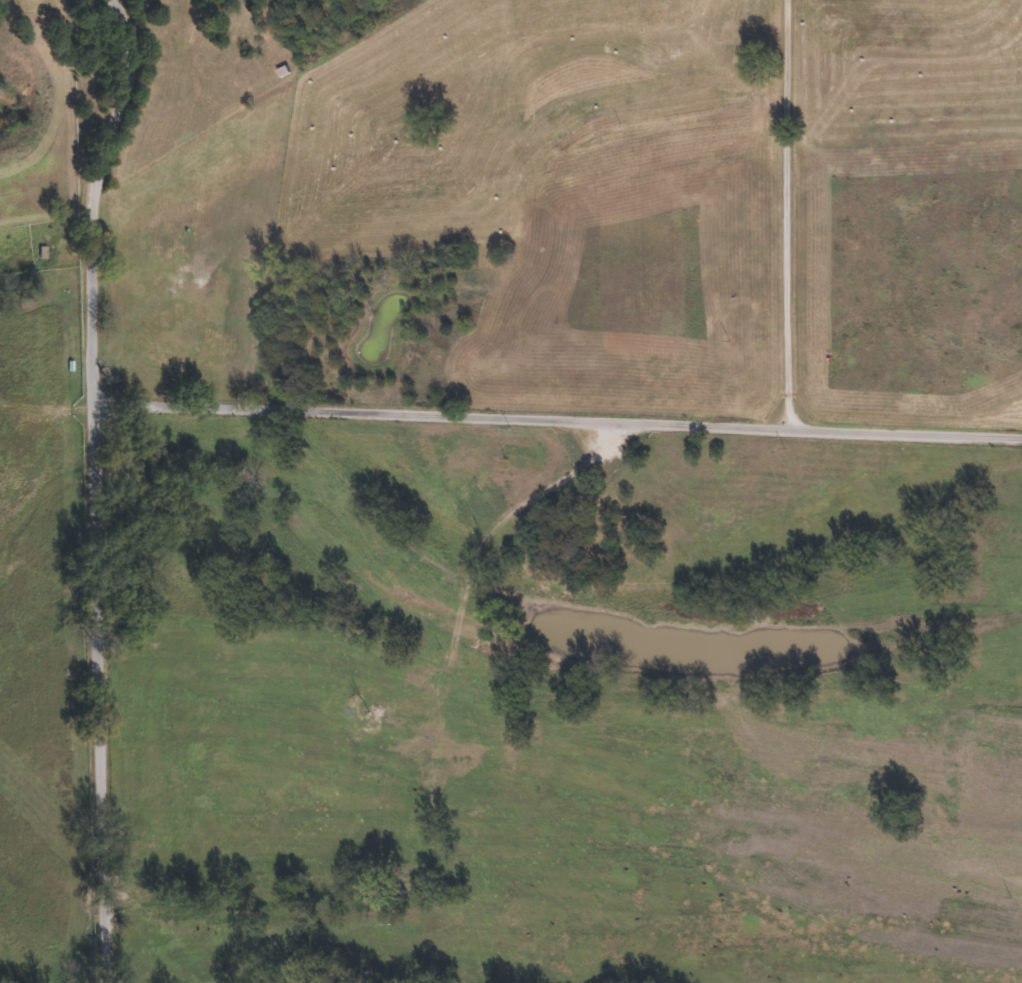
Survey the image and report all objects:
road: (793, 227)
road: (554, 449)
road: (79, 488)

